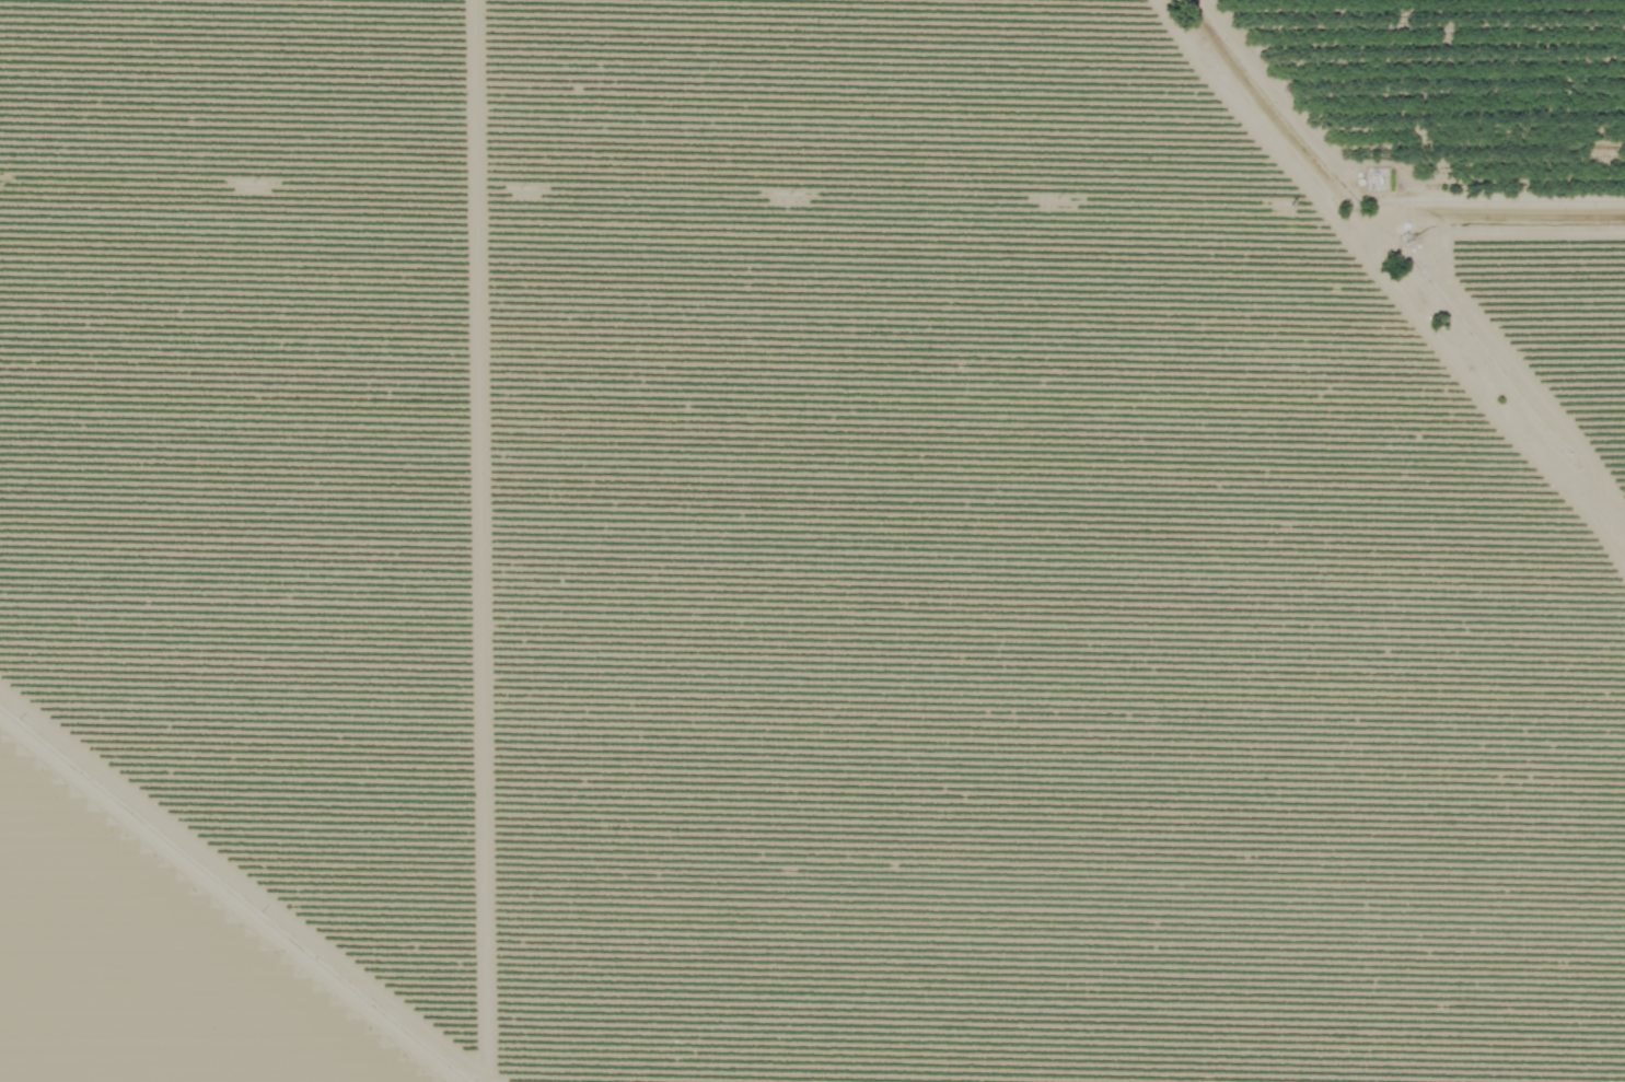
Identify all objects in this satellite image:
road: (1448, 218)
road: (1623, 415)
road: (248, 880)
crop: (161, 951)

